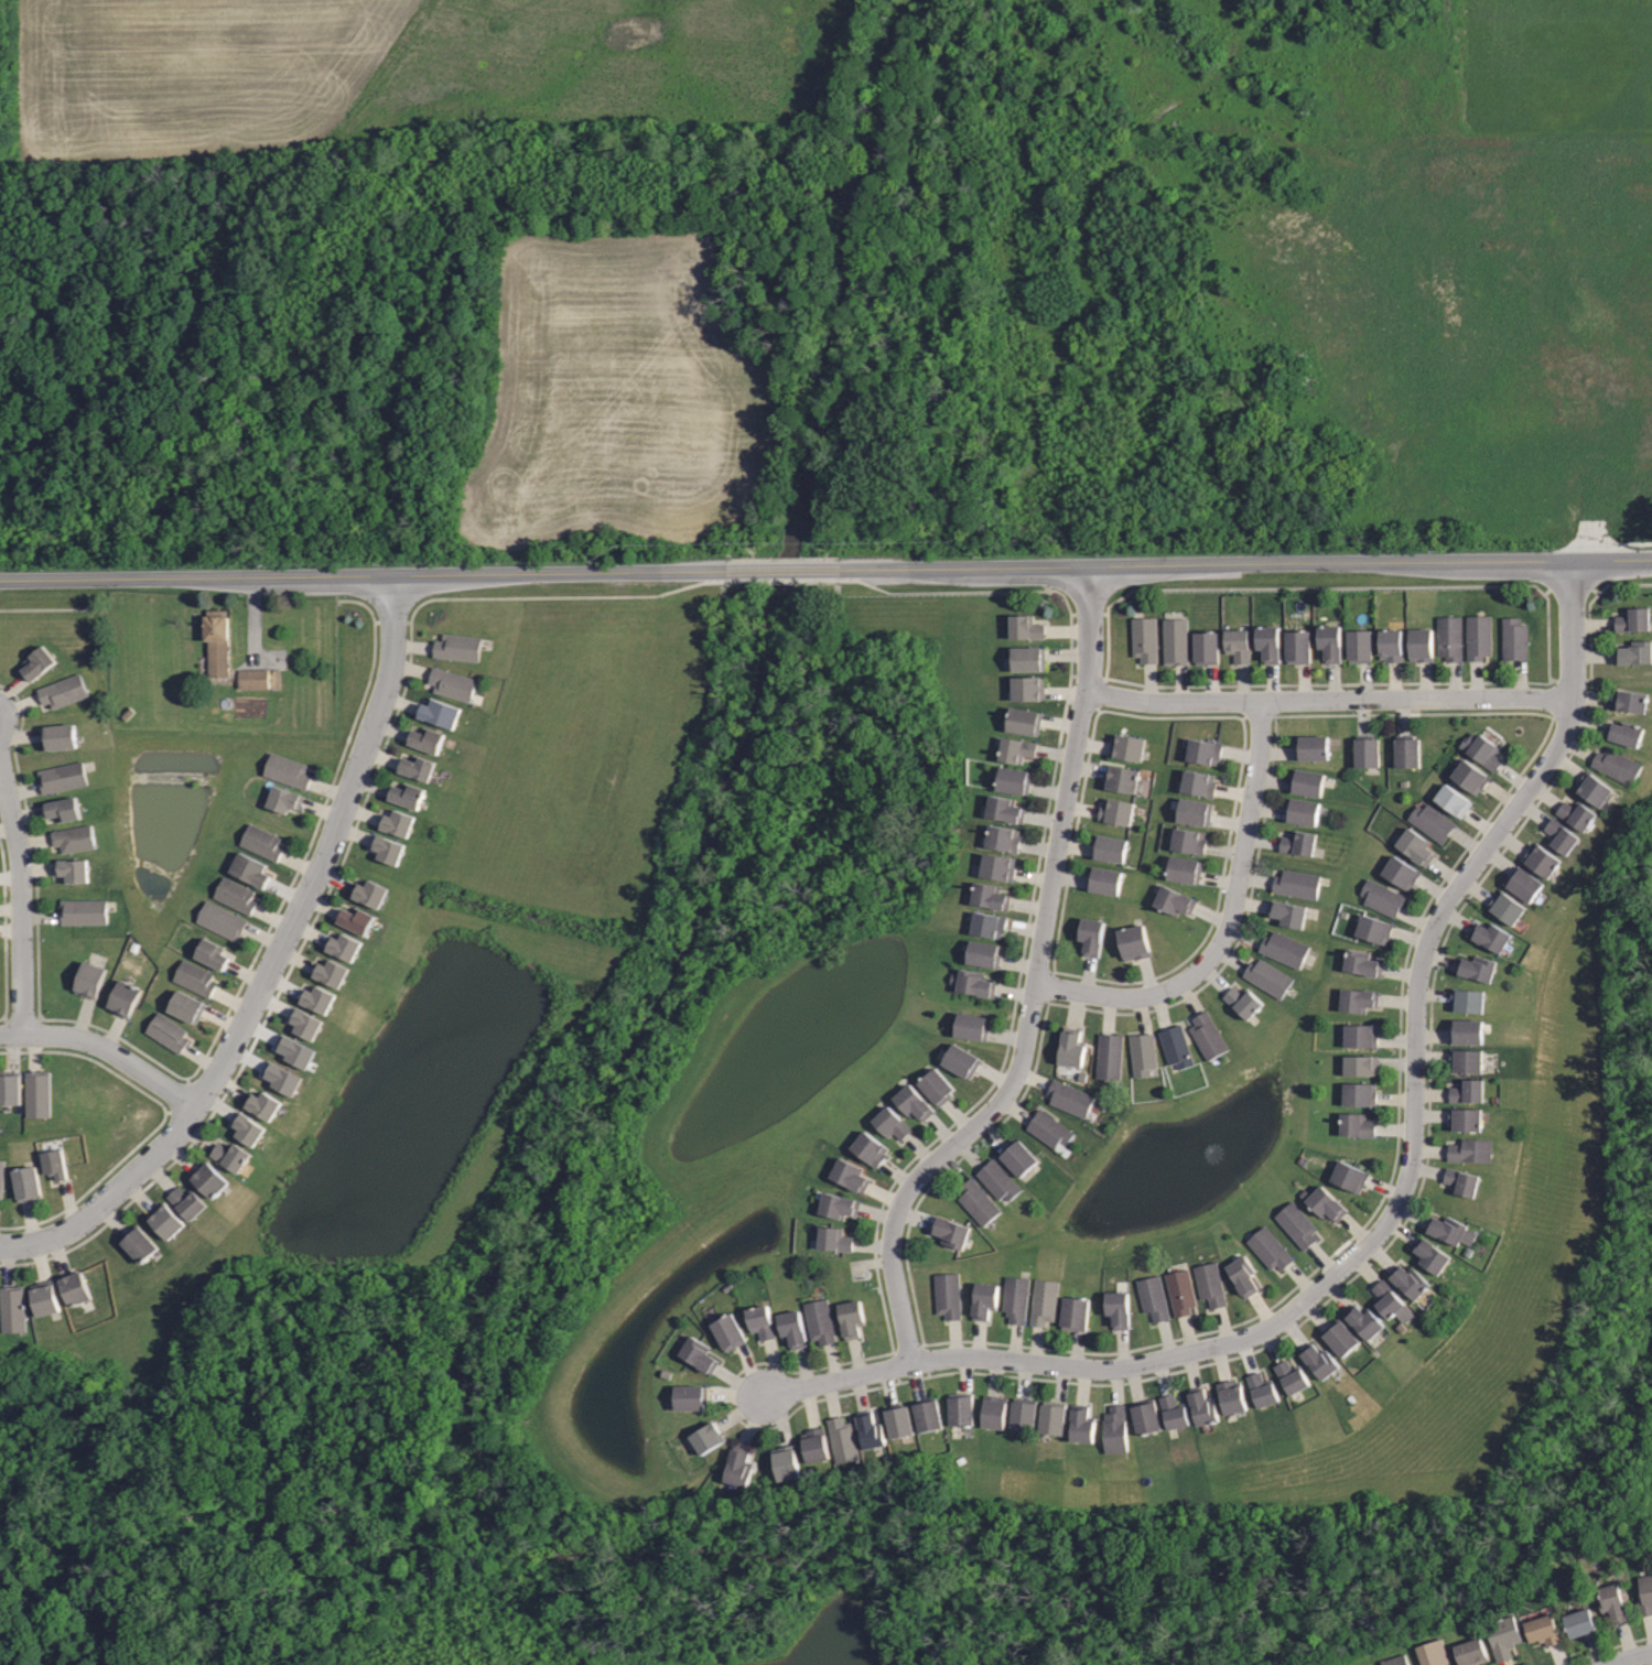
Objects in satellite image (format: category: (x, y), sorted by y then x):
crop: (410, 71)
crop: (620, 396)
road: (1612, 543)
road: (1239, 563)
road: (786, 570)
road: (371, 575)
road: (786, 580)
road: (964, 593)
road: (563, 597)
road: (53, 610)
road: (1081, 615)
building: (1631, 619)
road: (393, 623)
building: (1025, 627)
building: (1479, 635)
building: (1449, 636)
building: (1143, 638)
building: (1514, 639)
building: (1268, 640)
building: (1329, 640)
building: (1174, 641)
building: (1421, 641)
building: (219, 642)
building: (1237, 644)
building: (1359, 644)
building: (1391, 644)
building: (1297, 645)
road: (413, 646)
building: (460, 646)
building: (1207, 647)
building: (1633, 653)
building: (1028, 658)
building: (40, 662)
road: (411, 668)
building: (255, 678)
building: (454, 683)
building: (1028, 686)
road: (12, 689)
building: (65, 691)
road: (1329, 699)
building: (1628, 700)
road: (402, 702)
road: (21, 704)
building: (441, 712)
building: (129, 713)
building: (1026, 721)
road: (392, 728)
building: (1623, 732)
road: (21, 735)
river: (754, 735)
building: (60, 736)
building: (428, 738)
building: (1311, 745)
building: (1126, 746)
building: (1017, 748)
building: (1202, 749)
building: (1367, 749)
building: (1480, 749)
building: (1407, 750)
road: (382, 757)
building: (1617, 764)
building: (418, 766)
building: (289, 770)
building: (1469, 774)
building: (63, 777)
building: (1121, 778)
building: (1015, 779)
building: (1306, 779)
building: (1200, 782)
road: (372, 785)
building: (1591, 788)
road: (24, 789)
road: (328, 789)
road: (3, 793)
building: (408, 794)
building: (284, 799)
building: (1453, 799)
building: (64, 808)
road: (322, 809)
building: (1007, 809)
building: (1303, 809)
building: (1116, 811)
road: (30, 812)
building: (1195, 812)
road: (364, 813)
building: (1575, 813)
building: (1432, 820)
building: (399, 822)
road: (8, 829)
building: (1559, 834)
building: (1005, 836)
building: (75, 837)
building: (1189, 839)
building: (263, 842)
building: (1297, 842)
building: (1415, 844)
building: (1111, 847)
building: (389, 848)
building: (1540, 859)
road: (299, 864)
road: (37, 867)
building: (1000, 867)
building: (1185, 867)
building: (73, 868)
building: (250, 868)
building: (1400, 872)
building: (1104, 877)
building: (1296, 882)
building: (1524, 883)
road: (285, 890)
building: (371, 893)
building: (237, 895)
road: (21, 896)
building: (992, 896)
building: (1381, 897)
building: (1174, 900)
road: (1448, 900)
building: (1505, 907)
road: (10, 909)
building: (84, 911)
building: (1288, 911)
road: (42, 917)
road: (272, 917)
building: (358, 919)
building: (223, 920)
road: (1230, 923)
building: (990, 925)
road: (11, 929)
building: (1373, 929)
road: (7, 930)
road: (312, 932)
building: (1090, 934)
building: (1489, 934)
road: (263, 936)
building: (1134, 940)
building: (346, 945)
building: (1284, 947)
building: (213, 953)
building: (985, 953)
building: (1361, 962)
road: (272, 963)
building: (1475, 966)
building: (333, 973)
building: (196, 977)
building: (1268, 977)
building: (90, 979)
building: (978, 983)
road: (1036, 986)
building: (125, 997)
road: (277, 998)
building: (320, 998)
building: (1242, 999)
building: (1357, 999)
building: (1466, 999)
building: (187, 1005)
road: (22, 1018)
building: (307, 1023)
building: (973, 1025)
building: (1466, 1030)
building: (169, 1031)
building: (1359, 1035)
building: (1208, 1036)
building: (1069, 1046)
building: (1175, 1046)
road: (106, 1048)
building: (295, 1050)
building: (1142, 1052)
building: (1109, 1056)
building: (1466, 1058)
building: (962, 1060)
building: (1359, 1063)
road: (201, 1064)
building: (282, 1077)
building: (937, 1085)
building: (10, 1086)
building: (1467, 1090)
building: (39, 1093)
building: (1358, 1093)
building: (1069, 1098)
building: (913, 1101)
building: (264, 1104)
building: (1466, 1117)
building: (889, 1121)
building: (1356, 1124)
building: (249, 1128)
building: (1049, 1128)
building: (868, 1147)
building: (1469, 1148)
building: (231, 1155)
road: (182, 1156)
building: (1016, 1157)
building: (55, 1163)
building: (850, 1174)
building: (1347, 1174)
building: (209, 1178)
building: (2, 1179)
building: (997, 1180)
building: (1459, 1180)
building: (29, 1183)
building: (976, 1200)
road: (68, 1202)
building: (188, 1202)
building: (1324, 1202)
building: (838, 1204)
building: (169, 1221)
building: (1298, 1222)
building: (948, 1230)
building: (1449, 1230)
building: (833, 1239)
building: (141, 1244)
building: (1271, 1246)
building: (1430, 1254)
road: (41, 1261)
building: (1242, 1273)
building: (1408, 1282)
building: (1211, 1283)
building: (77, 1287)
building: (1179, 1290)
building: (947, 1294)
building: (1014, 1297)
building: (1152, 1297)
building: (46, 1298)
building: (1385, 1298)
building: (983, 1299)
building: (1043, 1300)
building: (0, 1301)
building: (1117, 1307)
building: (14, 1308)
building: (1073, 1311)
building: (850, 1317)
building: (819, 1320)
building: (1363, 1320)
building: (760, 1321)
building: (791, 1328)
building: (727, 1331)
building: (1340, 1337)
building: (700, 1354)
building: (1318, 1360)
road: (1071, 1363)
building: (1291, 1375)
building: (1261, 1388)
building: (691, 1395)
building: (1231, 1395)
building: (1202, 1406)
building: (961, 1408)
building: (1174, 1410)
building: (995, 1412)
building: (926, 1414)
building: (1023, 1414)
building: (1050, 1416)
building: (1147, 1416)
building: (937, 1417)
building: (898, 1420)
building: (1080, 1425)
building: (1113, 1428)
building: (871, 1429)
building: (706, 1437)
building: (841, 1439)
building: (813, 1444)
building: (785, 1461)
building: (737, 1466)
building: (1644, 1594)
building: (1611, 1601)
building: (1578, 1622)
crop: (0, 1626)
building: (1542, 1630)
building: (1501, 1636)
building: (1470, 1652)
building: (1430, 1653)
road: (1630, 1657)
building: (1394, 1659)
building: (1370, 1664)

